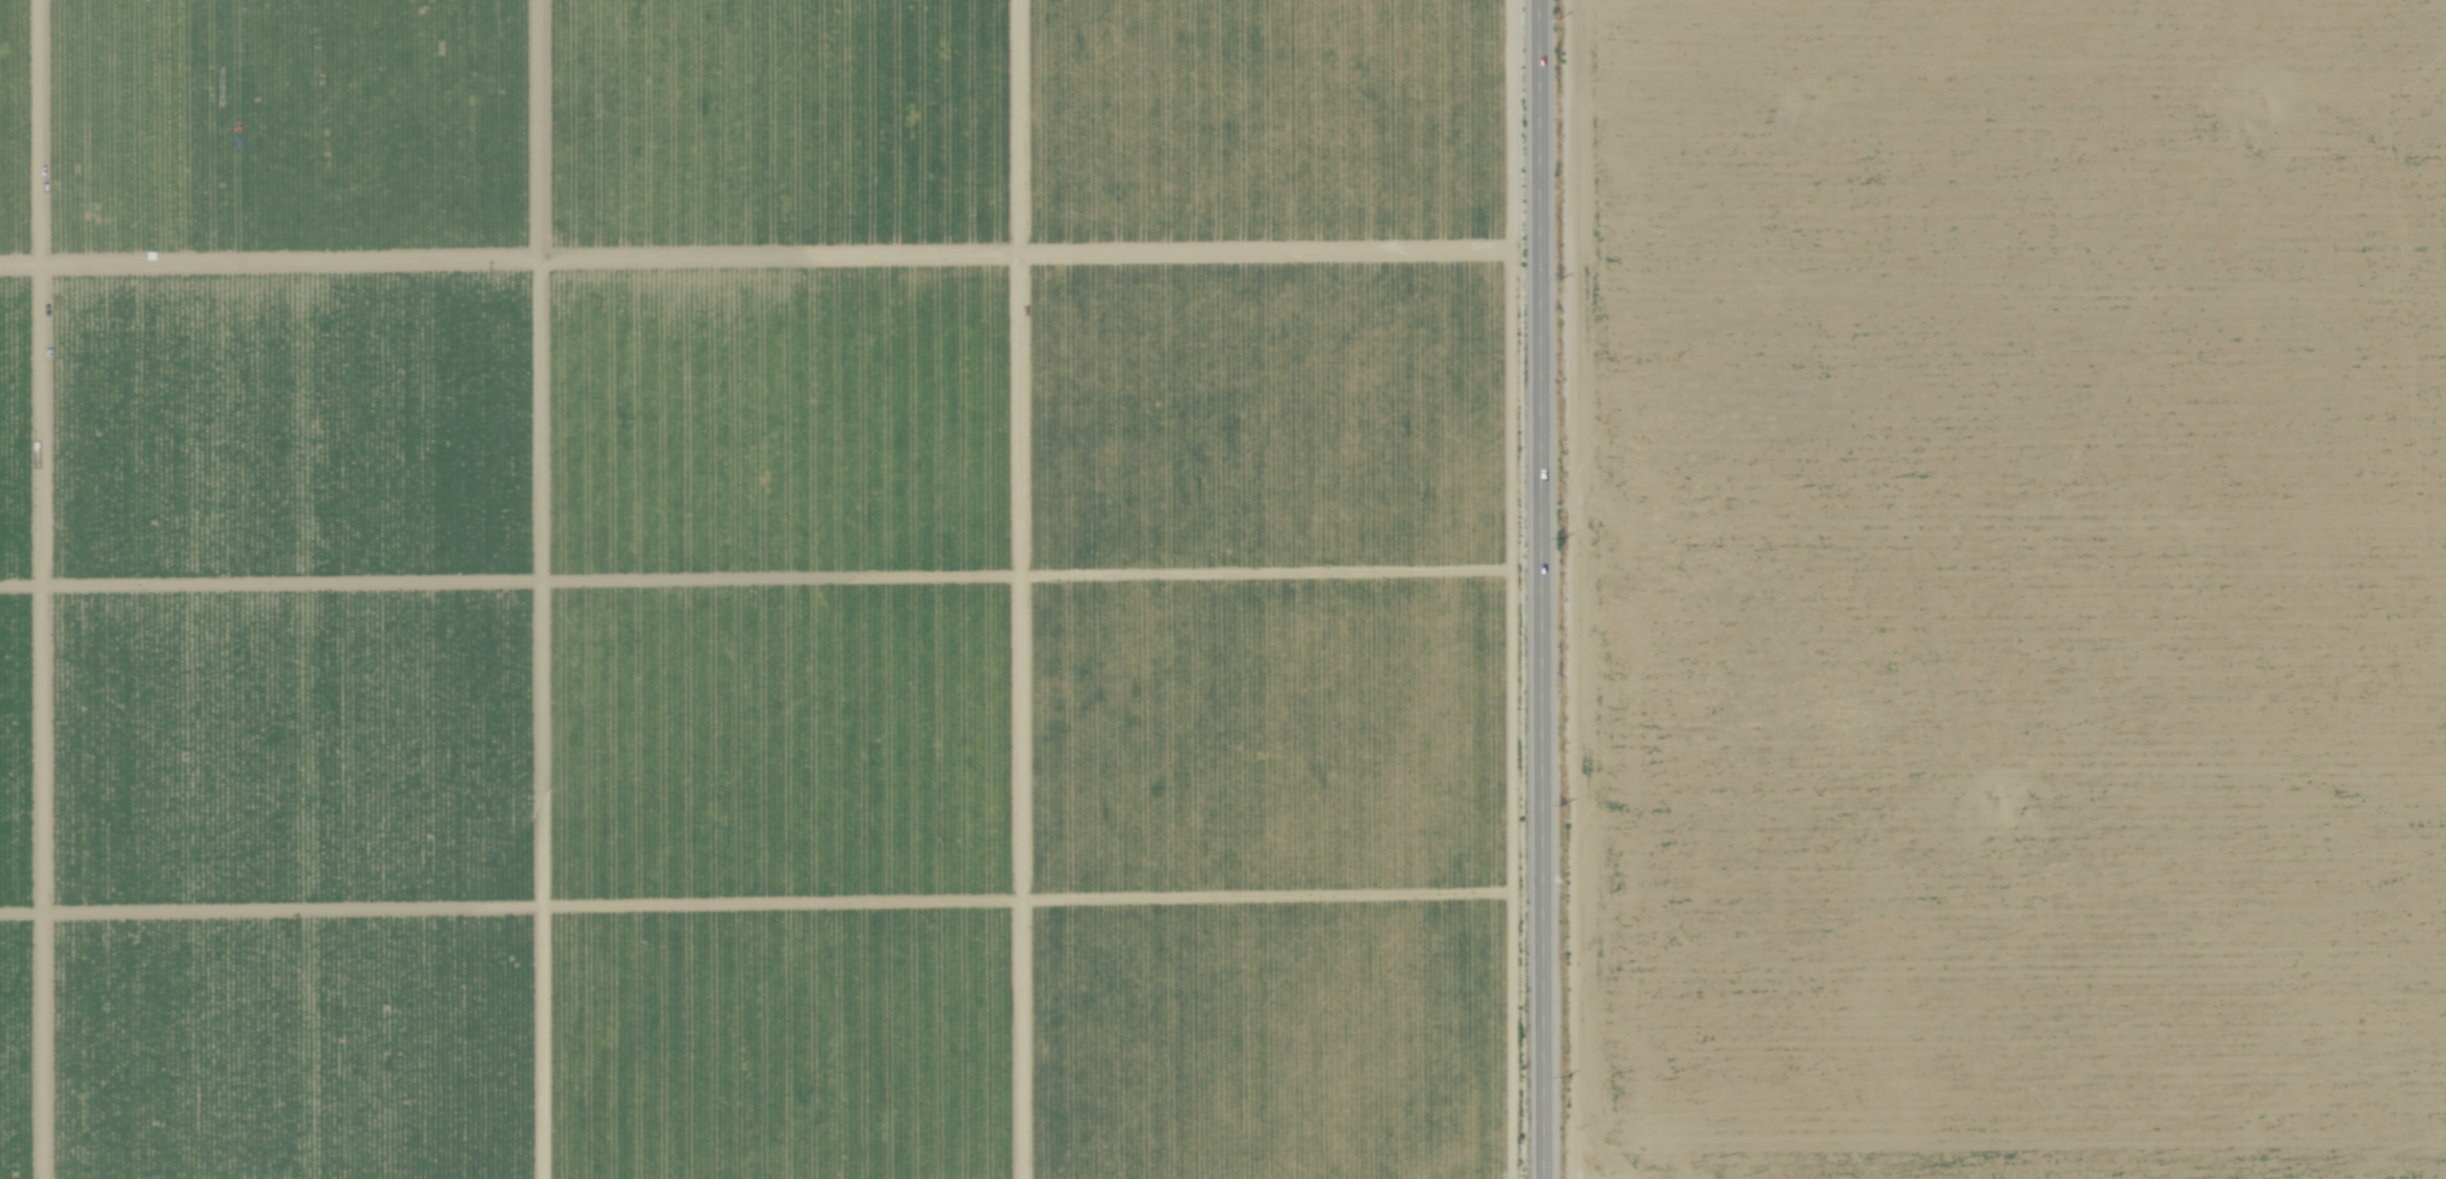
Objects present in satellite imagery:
road: (1544, 589)

